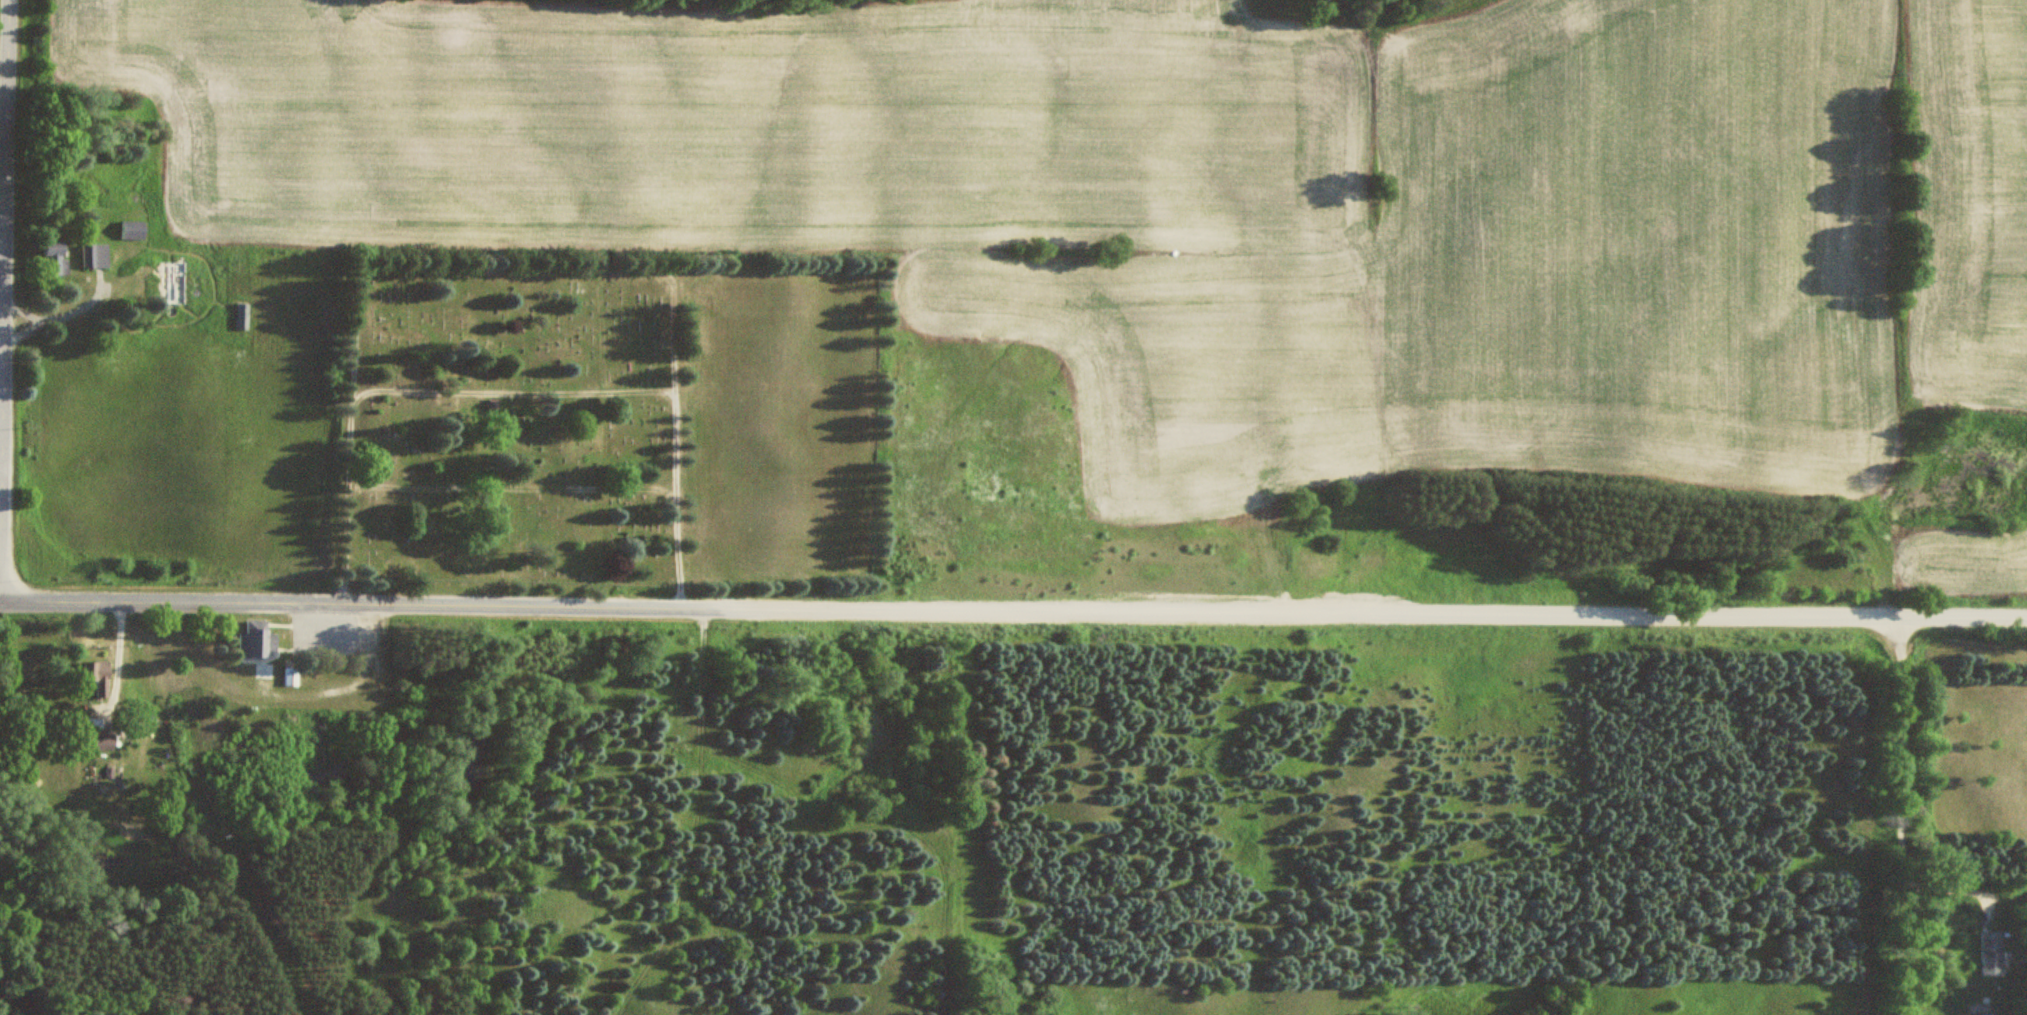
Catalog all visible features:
building: (135, 229)
building: (97, 255)
road: (2, 257)
building: (57, 257)
road: (515, 268)
building: (180, 281)
building: (242, 315)
road: (514, 391)
building: (494, 404)
park: (611, 424)
road: (513, 486)
road: (357, 601)
road: (1371, 609)
building: (259, 638)
building: (293, 674)
building: (104, 678)
building: (109, 738)
road: (1904, 812)
building: (1989, 953)

